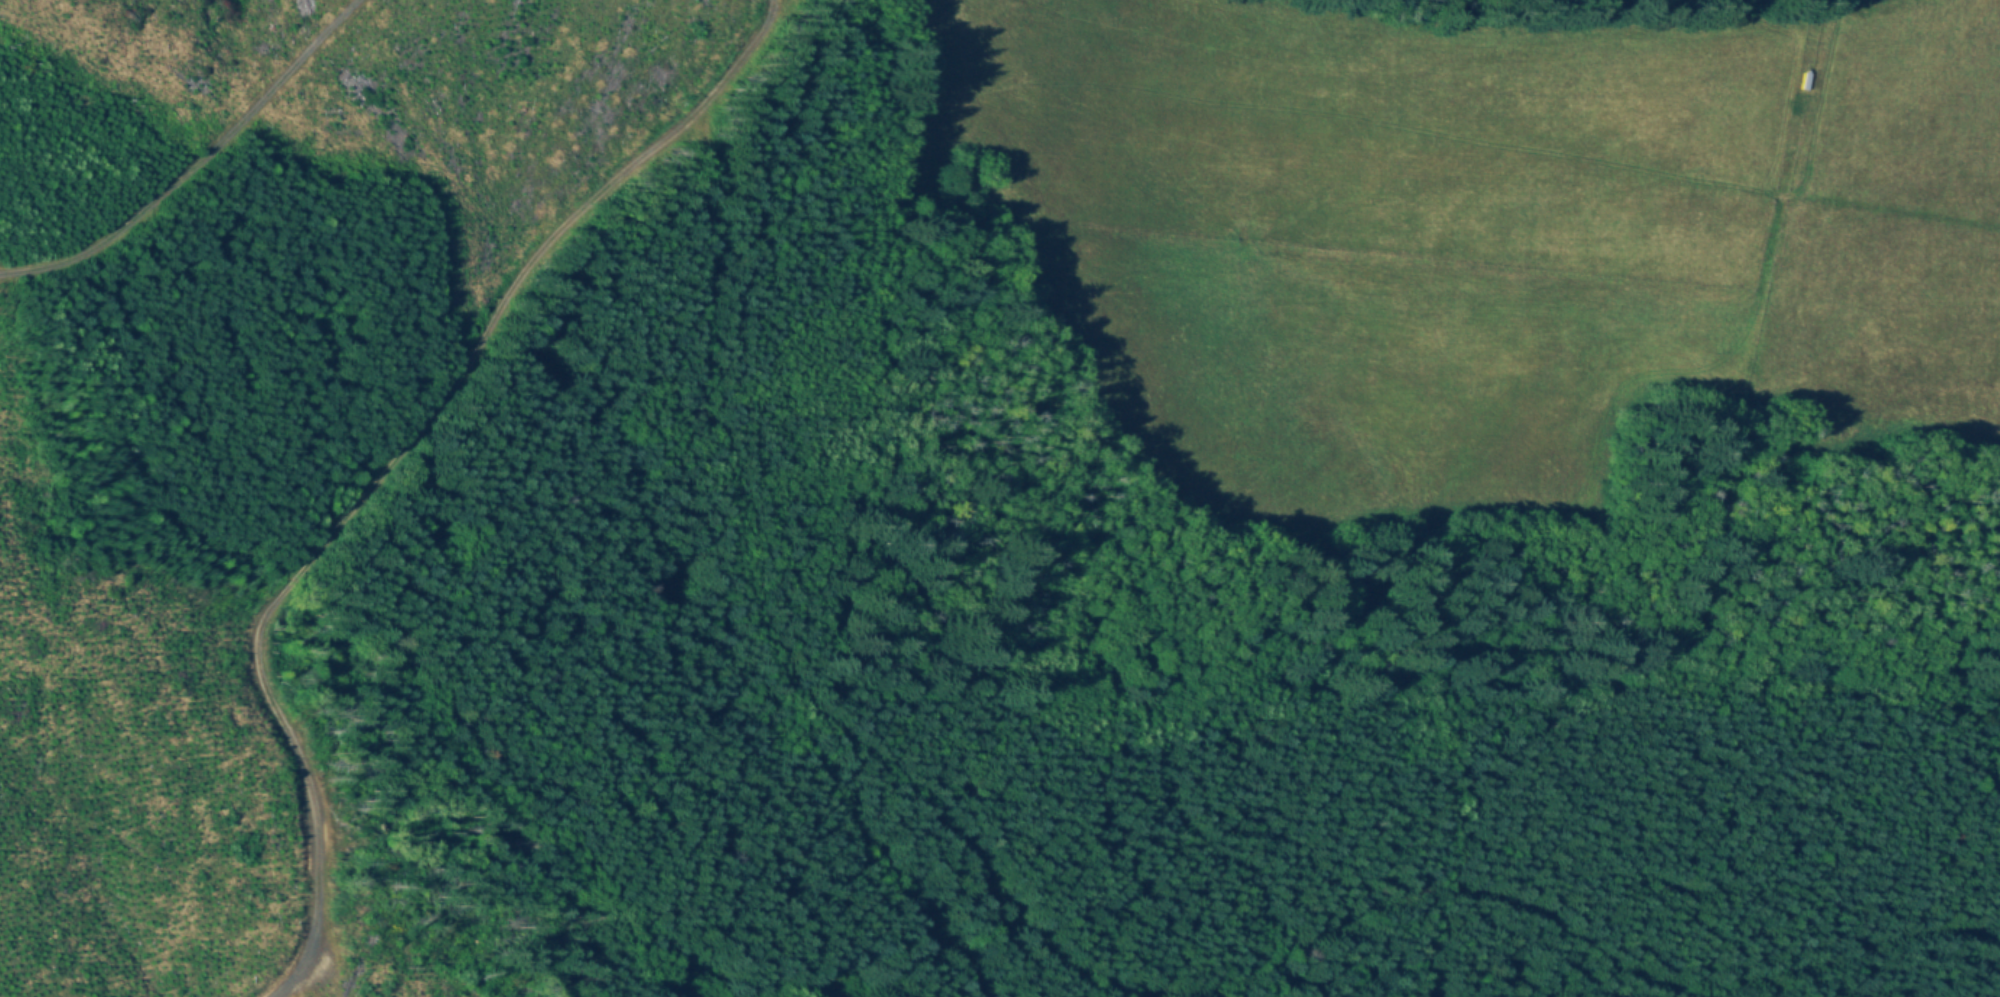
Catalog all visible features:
building: (1869, 0)

